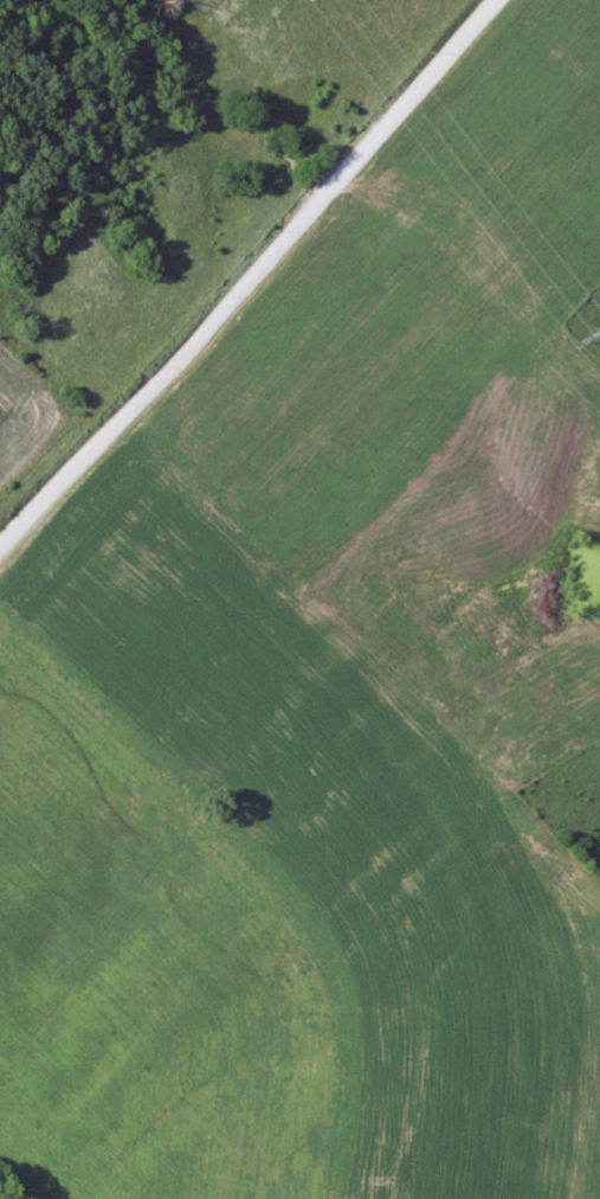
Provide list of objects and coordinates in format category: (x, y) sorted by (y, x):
road: (246, 270)
power tower: (586, 338)
crop: (32, 427)
crop: (156, 605)
crop: (150, 975)

